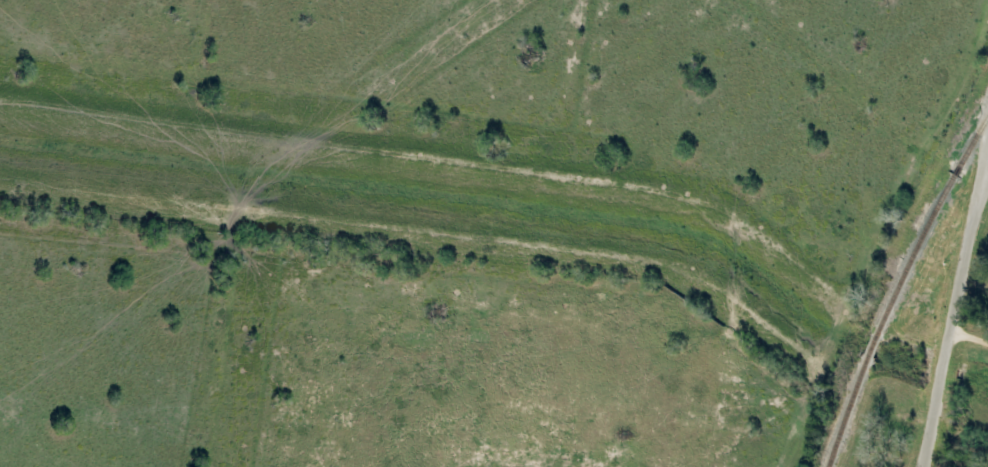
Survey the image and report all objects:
road: (986, 176)
railway: (896, 285)
road: (958, 313)

